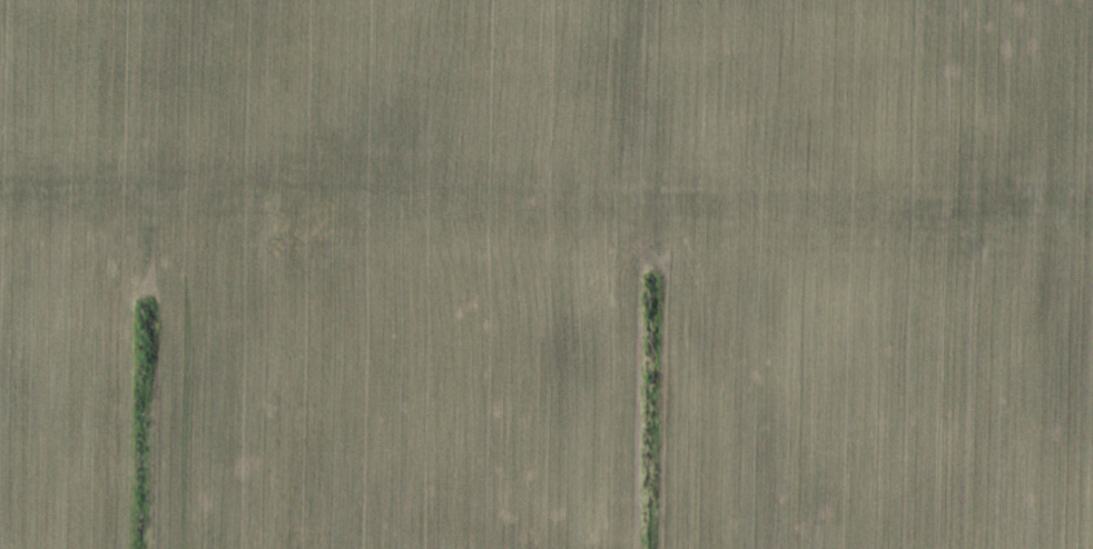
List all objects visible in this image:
crop: (546, 274)

